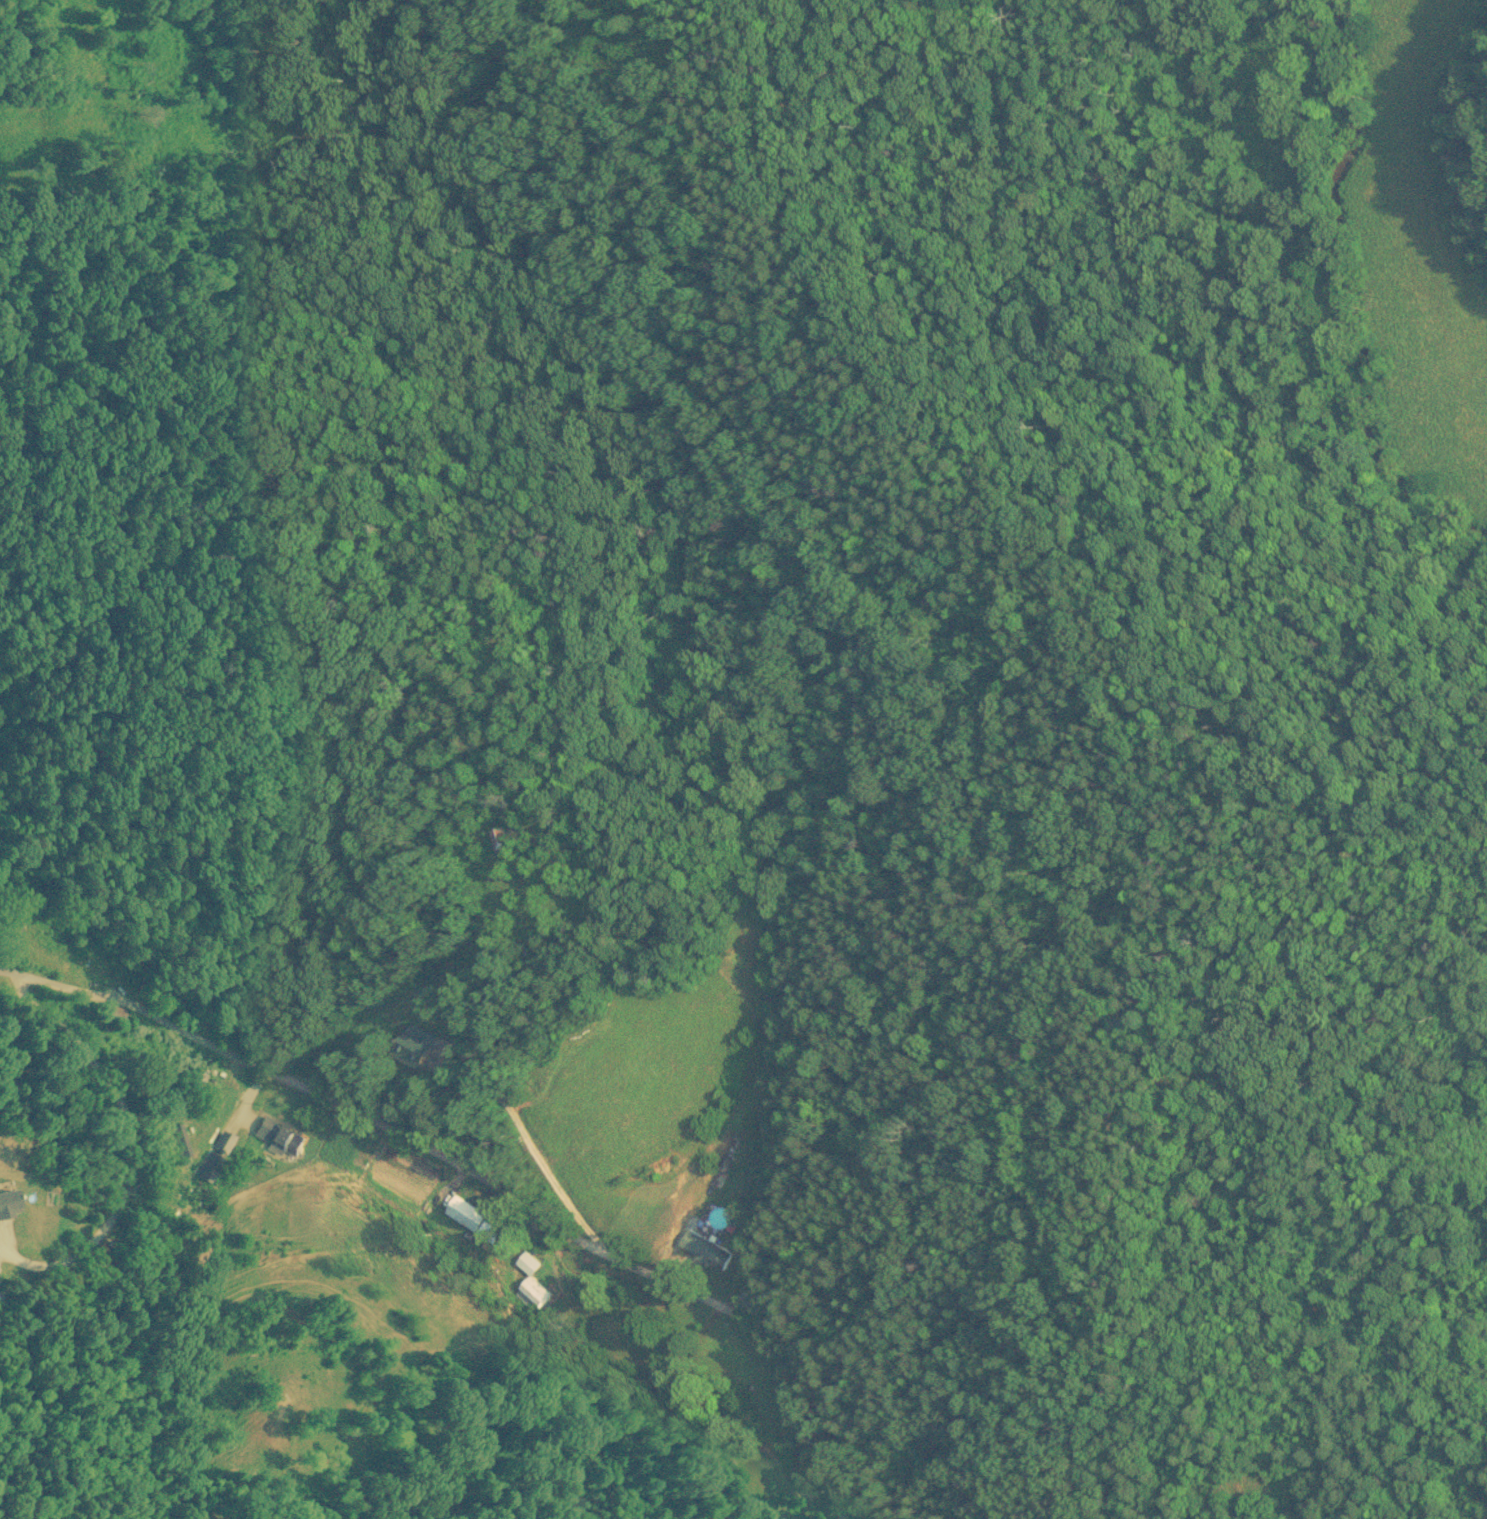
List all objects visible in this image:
building: (495, 840)
building: (412, 1047)
building: (272, 1135)
road: (481, 1176)
road: (553, 1180)
building: (465, 1214)
building: (704, 1252)
building: (535, 1295)
building: (745, 1302)
building: (784, 1518)

